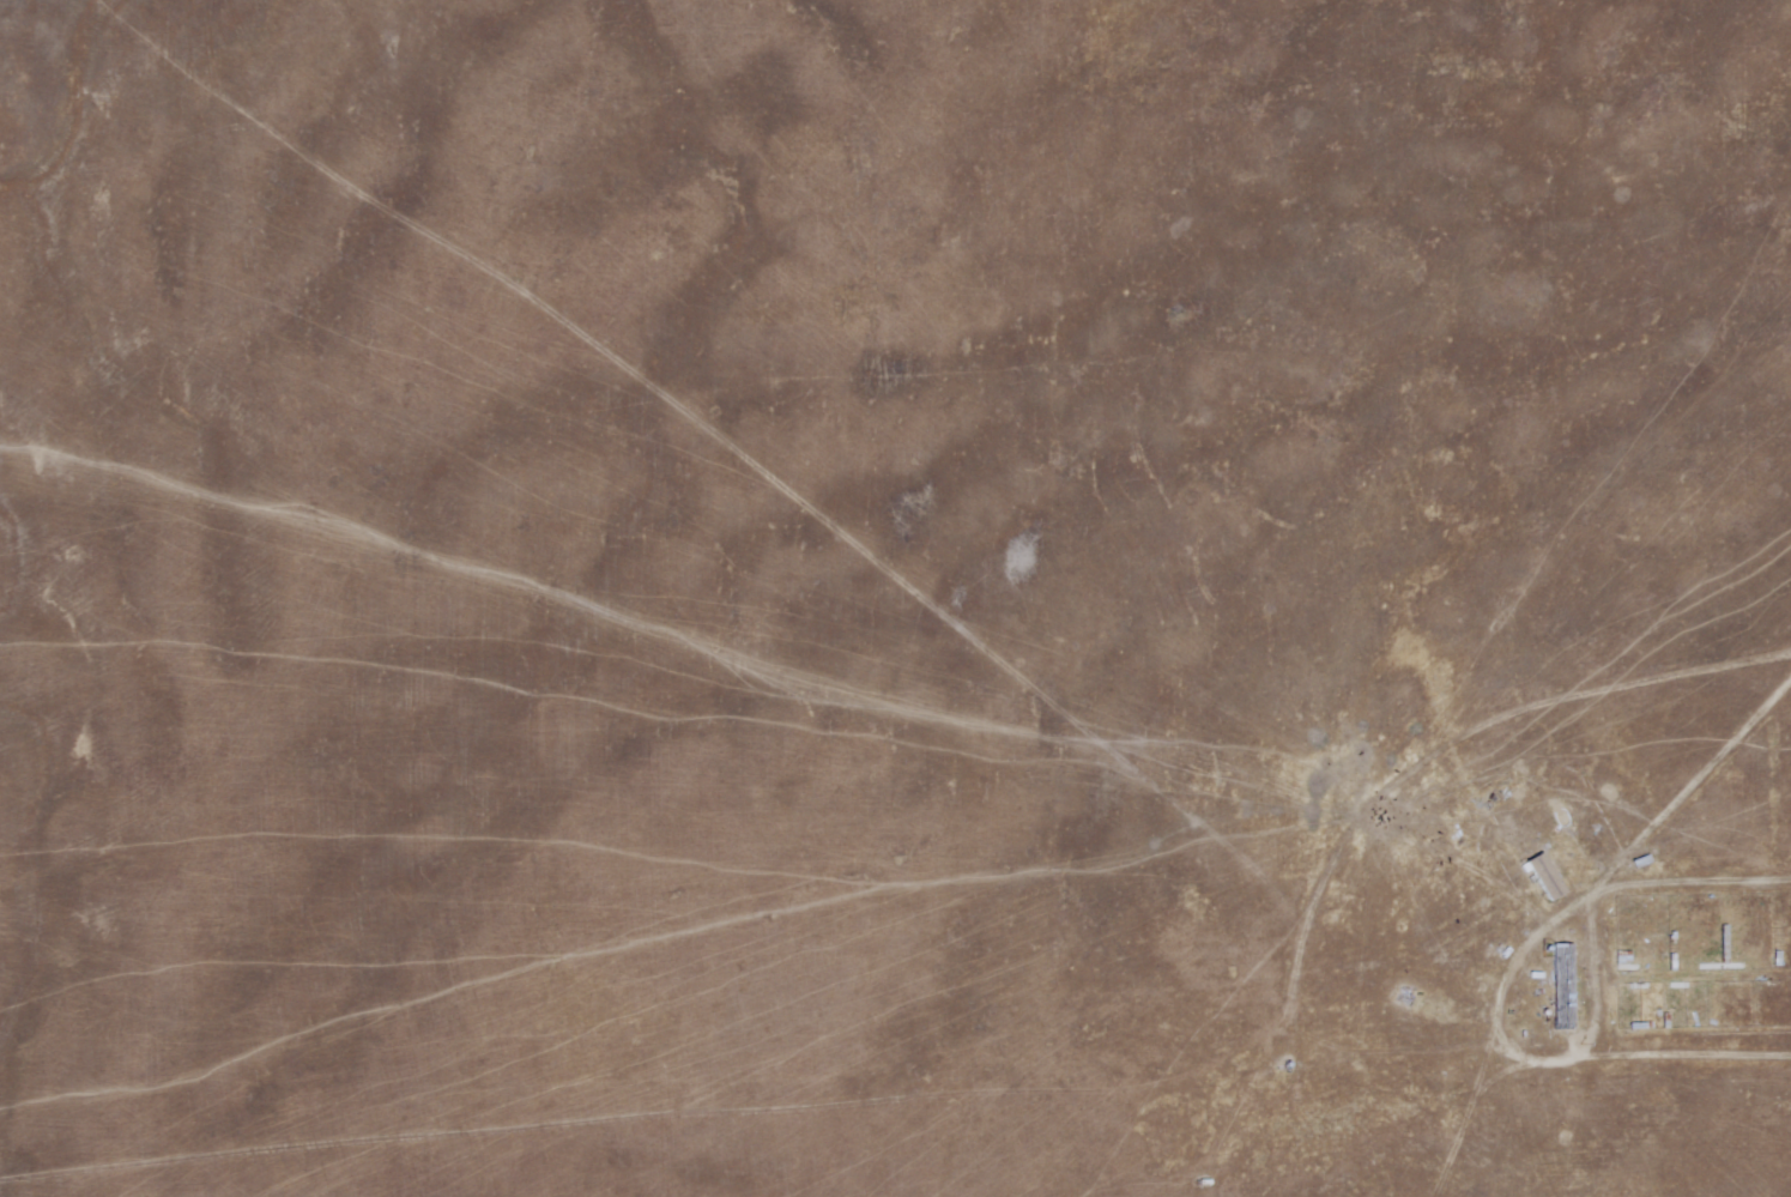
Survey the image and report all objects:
road: (1694, 785)
building: (1547, 877)
road: (1696, 883)
building: (1565, 987)
road: (1521, 1056)
road: (1682, 1057)

